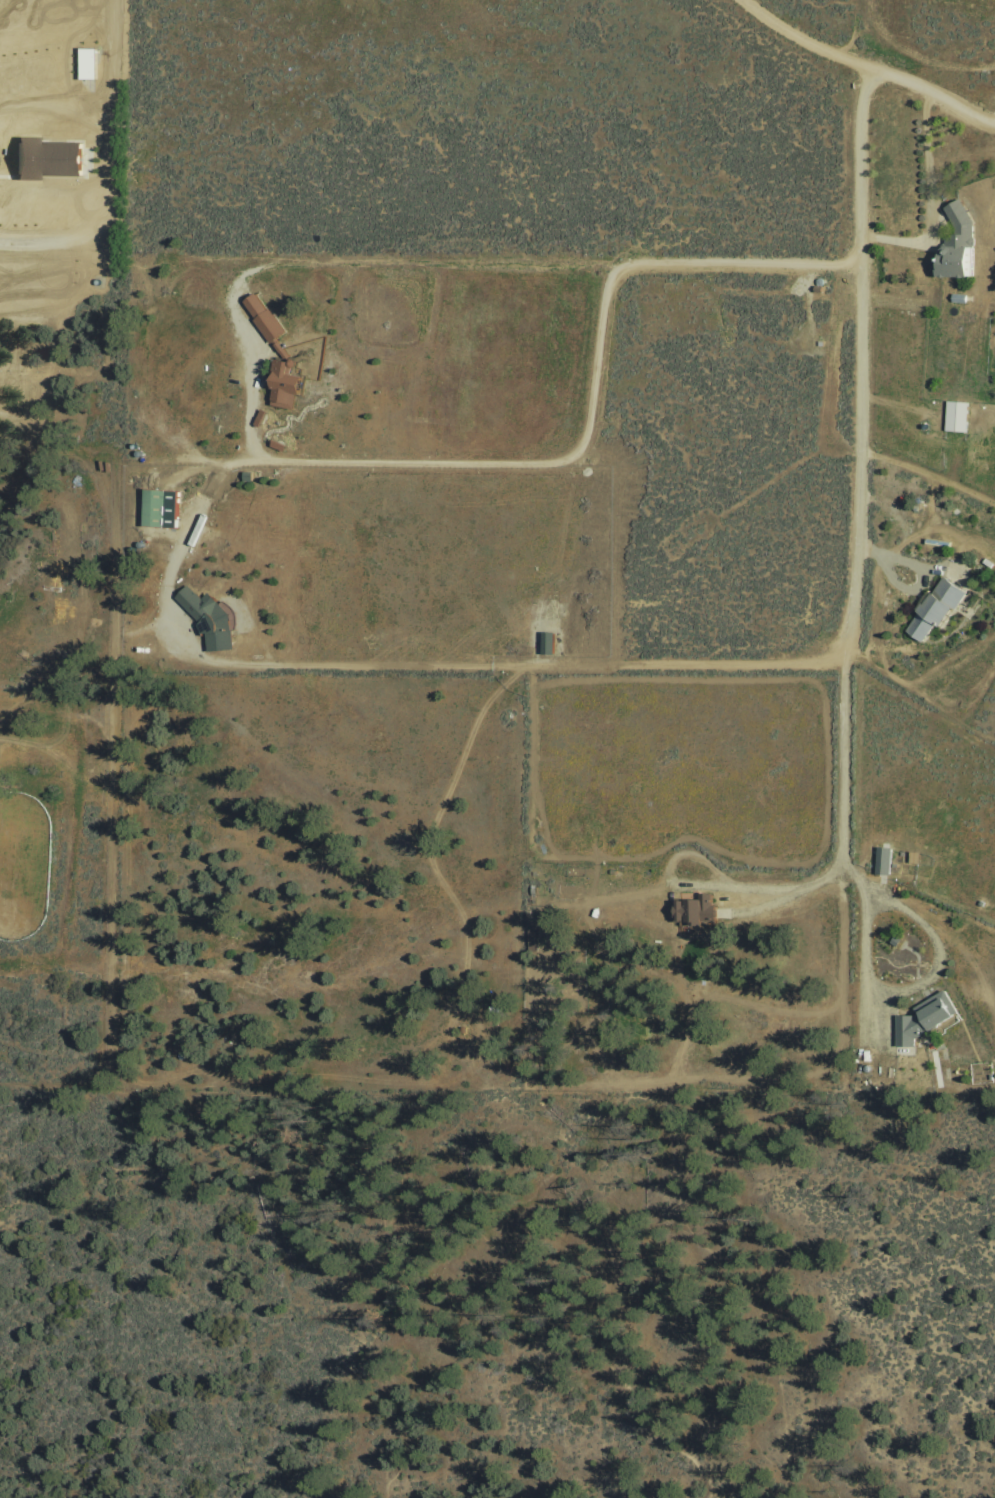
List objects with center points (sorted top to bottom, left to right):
building: (88, 62)
road: (864, 68)
road: (103, 79)
building: (45, 159)
road: (929, 196)
building: (954, 245)
road: (42, 247)
building: (438, 334)
building: (283, 355)
road: (861, 366)
building: (430, 379)
road: (251, 390)
building: (427, 401)
building: (262, 416)
building: (955, 417)
building: (419, 421)
building: (278, 447)
road: (502, 465)
road: (928, 477)
building: (246, 478)
building: (158, 508)
road: (965, 536)
road: (922, 574)
building: (934, 609)
building: (207, 620)
building: (547, 627)
road: (875, 635)
road: (878, 640)
building: (545, 645)
road: (948, 656)
road: (537, 665)
road: (60, 717)
road: (110, 720)
road: (843, 779)
building: (914, 856)
building: (882, 861)
road: (715, 887)
building: (693, 914)
building: (532, 938)
road: (884, 993)
building: (921, 1020)
road: (456, 1221)

